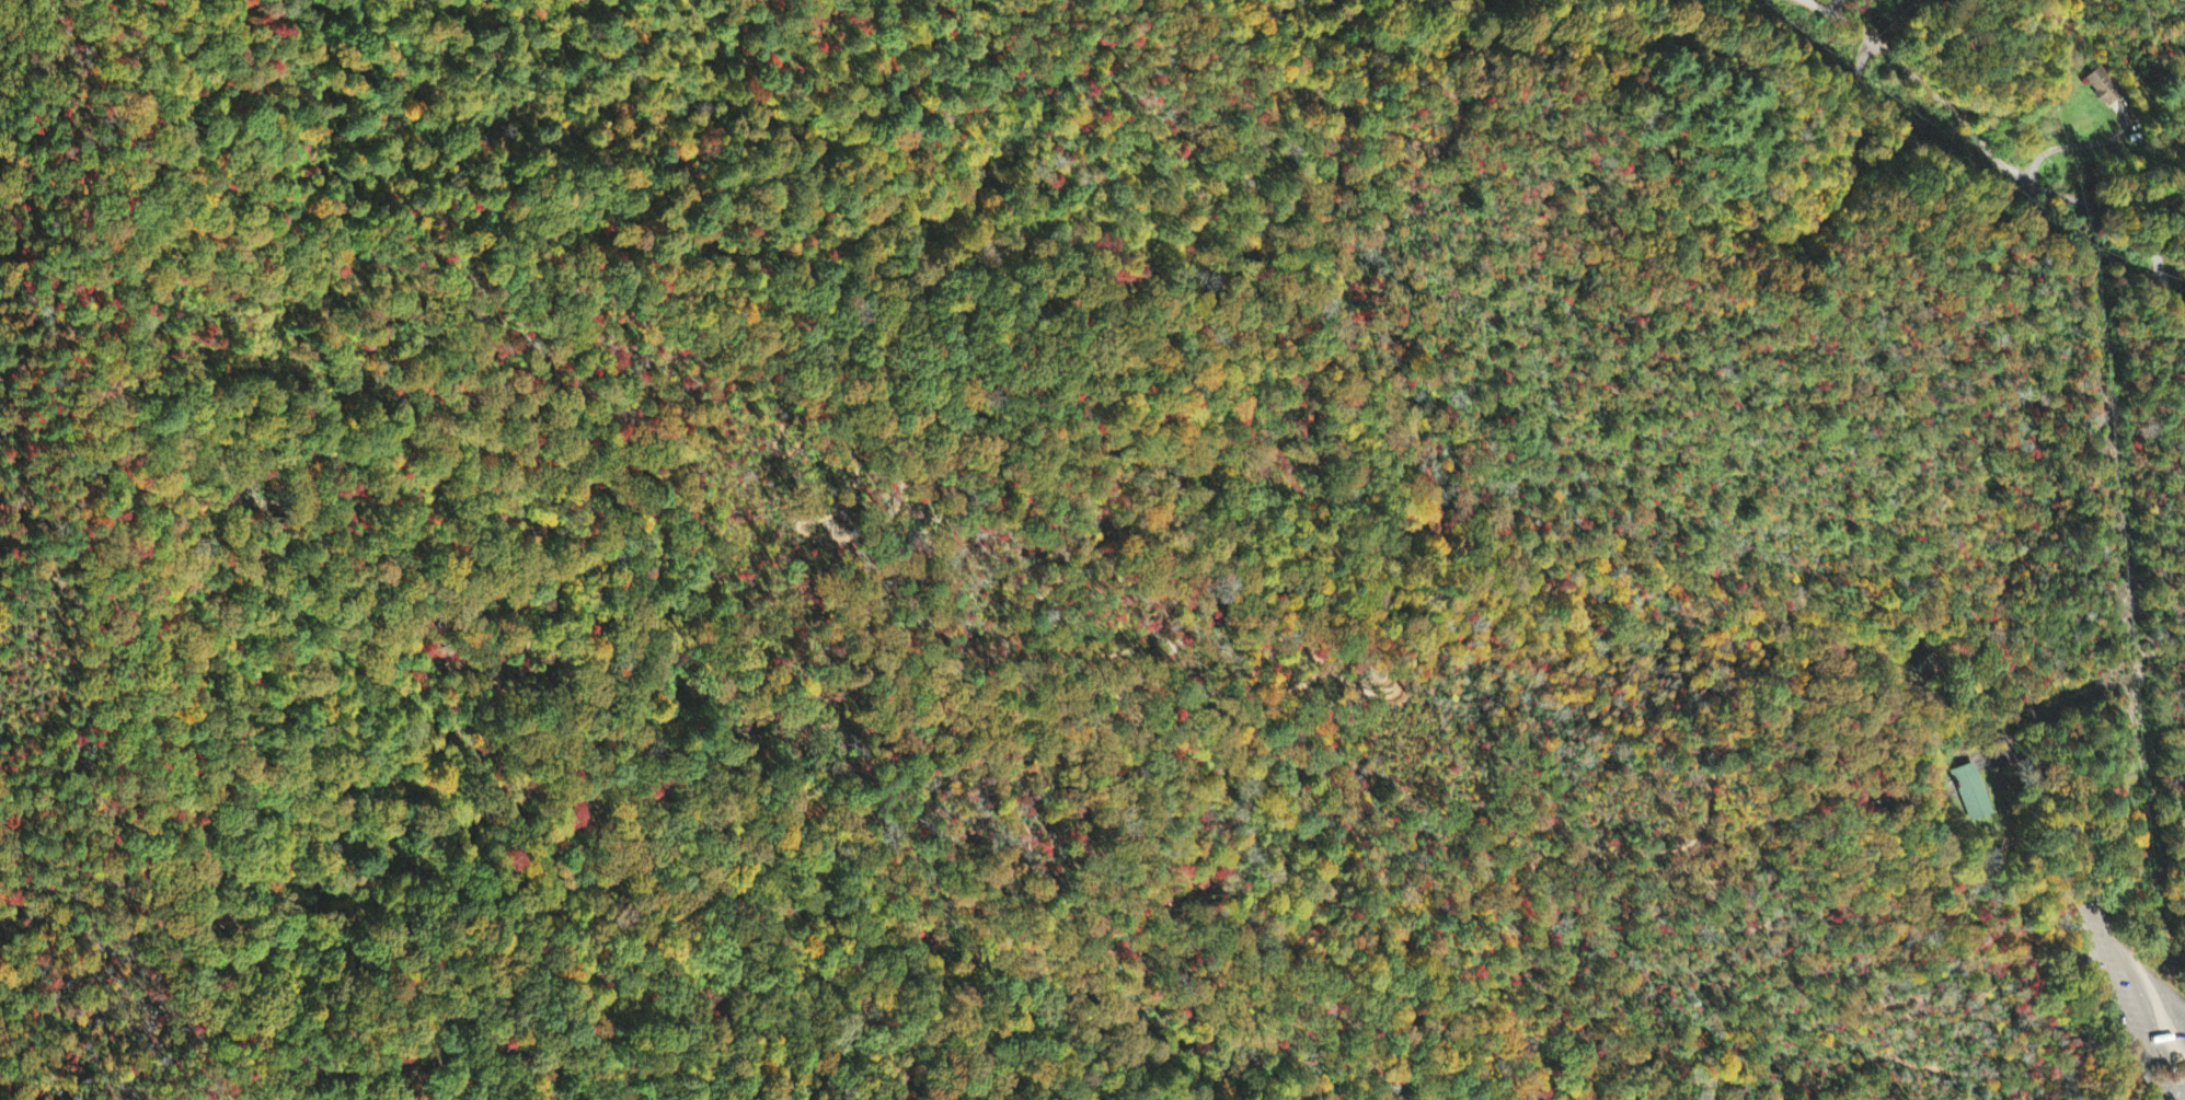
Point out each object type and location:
building: (2105, 88)
road: (1775, 241)
road: (1270, 645)
road: (608, 746)
road: (388, 757)
building: (1971, 794)
road: (1436, 848)
road: (1396, 890)
road: (2071, 935)
road: (74, 949)
road: (2061, 986)
parking lot: (2134, 992)
road: (1279, 1011)
road: (792, 1033)
road: (929, 1033)
road: (1891, 1070)
road: (620, 1086)
parking lot: (2173, 1086)

